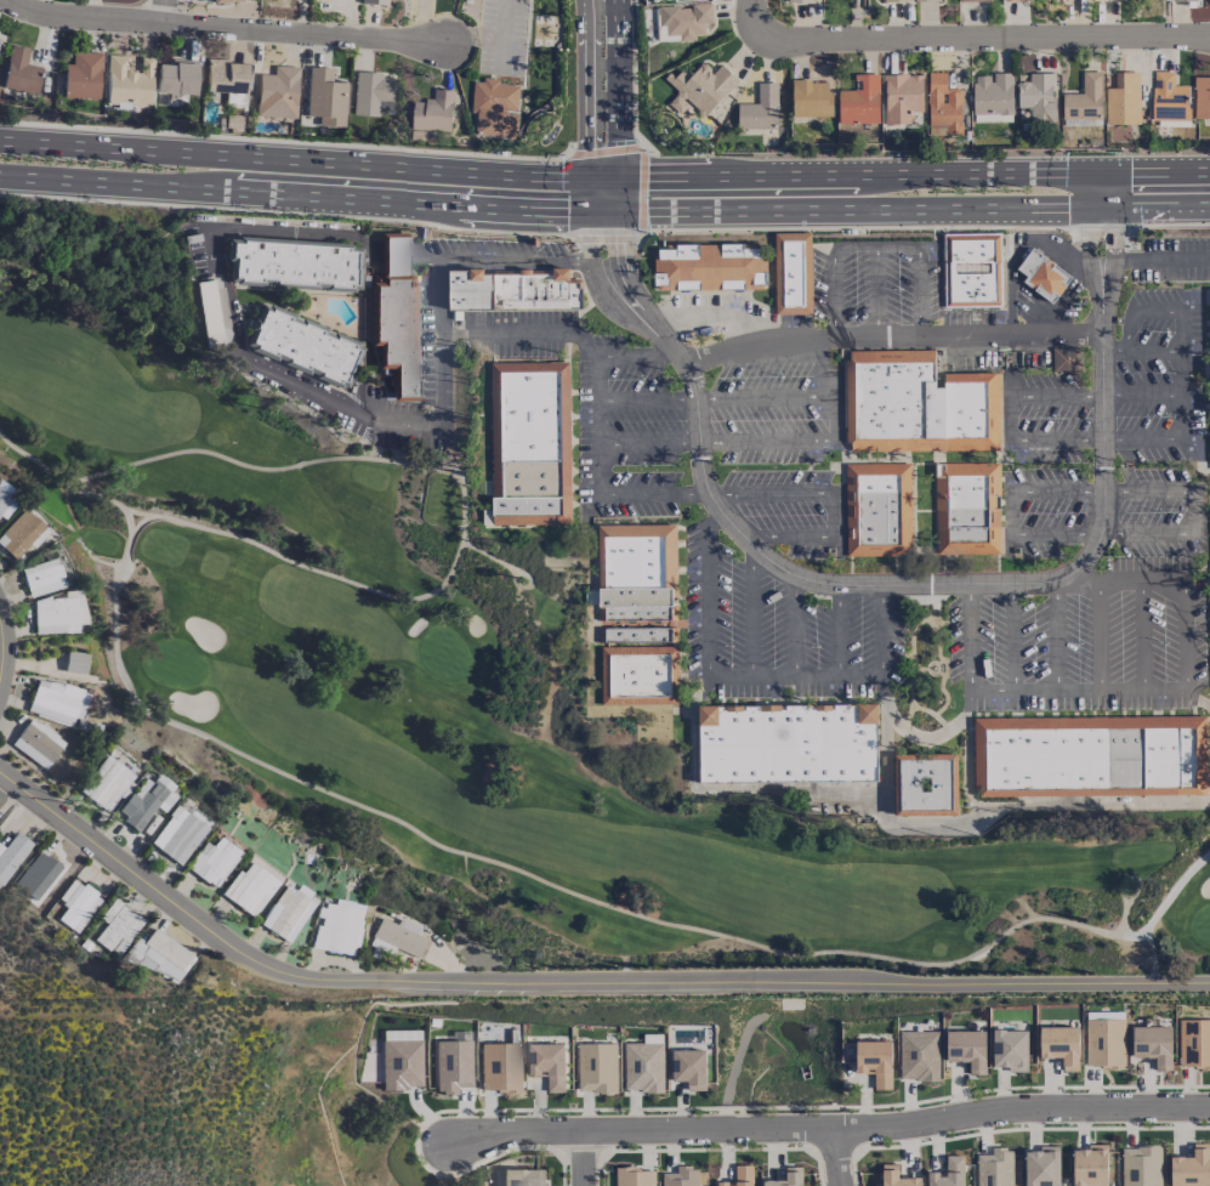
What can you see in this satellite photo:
building: (668, 0)
building: (888, 0)
building: (925, 0)
building: (973, 0)
building: (1017, 0)
building: (1107, 0)
building: (1177, 0)
building: (797, 1)
building: (371, 2)
road: (601, 5)
road: (161, 11)
building: (682, 21)
road: (226, 27)
park: (540, 32)
road: (966, 32)
parking lot: (496, 34)
road: (502, 35)
building: (0, 41)
road: (602, 67)
building: (18, 72)
road: (618, 72)
road: (587, 73)
building: (81, 76)
building: (223, 76)
building: (175, 78)
building: (125, 81)
building: (700, 87)
building: (277, 93)
building: (992, 93)
building: (1038, 96)
building: (325, 97)
building: (902, 97)
building: (1169, 97)
building: (1202, 97)
road: (602, 98)
building: (811, 98)
building: (1084, 98)
building: (1123, 100)
building: (859, 101)
building: (943, 106)
building: (494, 107)
building: (760, 109)
building: (433, 110)
fountain: (553, 136)
fountain: (652, 136)
road: (284, 141)
road: (603, 149)
road: (618, 149)
road: (587, 152)
road: (308, 160)
road: (618, 164)
traffic signals: (1113, 170)
road: (927, 171)
traffic signals: (618, 175)
road: (627, 175)
road: (641, 175)
traffic signals: (587, 176)
road: (587, 183)
road: (1112, 188)
road: (618, 192)
road: (641, 192)
road: (308, 194)
road: (569, 197)
traffic signals: (1110, 206)
road: (926, 208)
traffic signals: (587, 210)
traffic signals: (618, 210)
road: (627, 210)
road: (641, 210)
road: (286, 214)
road: (1168, 222)
road: (853, 226)
road: (617, 227)
road: (587, 228)
road: (1100, 232)
road: (606, 238)
road: (852, 248)
road: (897, 248)
road: (1085, 251)
road: (617, 252)
road: (527, 259)
road: (1160, 262)
building: (290, 263)
building: (711, 267)
road: (1109, 268)
building: (973, 269)
building: (793, 273)
building: (1044, 276)
building: (515, 289)
road: (606, 291)
road: (876, 291)
road: (625, 294)
road: (919, 294)
road: (834, 296)
road: (706, 313)
building: (394, 317)
road: (1134, 320)
road: (227, 331)
road: (484, 333)
road: (890, 335)
building: (301, 347)
road: (1148, 351)
road: (636, 354)
building: (1069, 359)
road: (824, 367)
road: (1180, 373)
fountain: (1199, 379)
road: (1030, 396)
building: (919, 405)
road: (835, 418)
road: (596, 426)
road: (1141, 437)
building: (530, 443)
road: (460, 495)
road: (653, 495)
building: (6, 500)
road: (829, 505)
building: (877, 509)
building: (967, 509)
road: (137, 513)
road: (1195, 528)
building: (21, 534)
building: (637, 562)
building: (41, 578)
road: (1124, 580)
road: (902, 584)
road: (706, 590)
building: (636, 603)
road: (751, 613)
road: (795, 628)
road: (839, 631)
road: (1182, 632)
road: (1057, 634)
road: (1142, 634)
building: (638, 635)
road: (1100, 635)
road: (967, 636)
road: (1012, 636)
road: (0, 647)
road: (882, 653)
park: (926, 664)
park: (444, 670)
building: (640, 675)
road: (773, 680)
road: (1076, 688)
road: (1197, 698)
building: (57, 702)
road: (884, 736)
road: (933, 738)
building: (38, 743)
building: (789, 743)
road: (968, 749)
building: (1090, 756)
building: (108, 785)
building: (926, 785)
road: (732, 790)
building: (143, 802)
road: (1085, 805)
building: (150, 822)
road: (920, 825)
building: (177, 835)
building: (11, 856)
building: (214, 862)
building: (39, 876)
road: (1130, 878)
road: (142, 880)
building: (250, 889)
building: (76, 904)
road: (1159, 910)
building: (285, 915)
building: (118, 927)
building: (337, 927)
road: (1115, 930)
building: (398, 937)
building: (160, 955)
road: (750, 975)
building: (1104, 1040)
building: (1153, 1044)
building: (1194, 1044)
building: (1060, 1045)
building: (967, 1049)
building: (1010, 1049)
building: (919, 1055)
building: (401, 1060)
building: (874, 1061)
building: (546, 1065)
building: (643, 1065)
building: (451, 1066)
building: (499, 1067)
building: (596, 1067)
building: (689, 1067)
road: (833, 1130)
road: (51, 1150)
road: (836, 1158)
road: (584, 1159)
building: (1090, 1165)
building: (1141, 1165)
building: (1041, 1167)
building: (1191, 1167)
building: (994, 1168)
building: (948, 1173)
building: (634, 1176)
building: (681, 1176)
building: (740, 1176)
building: (896, 1176)
building: (518, 1178)
building: (788, 1178)

